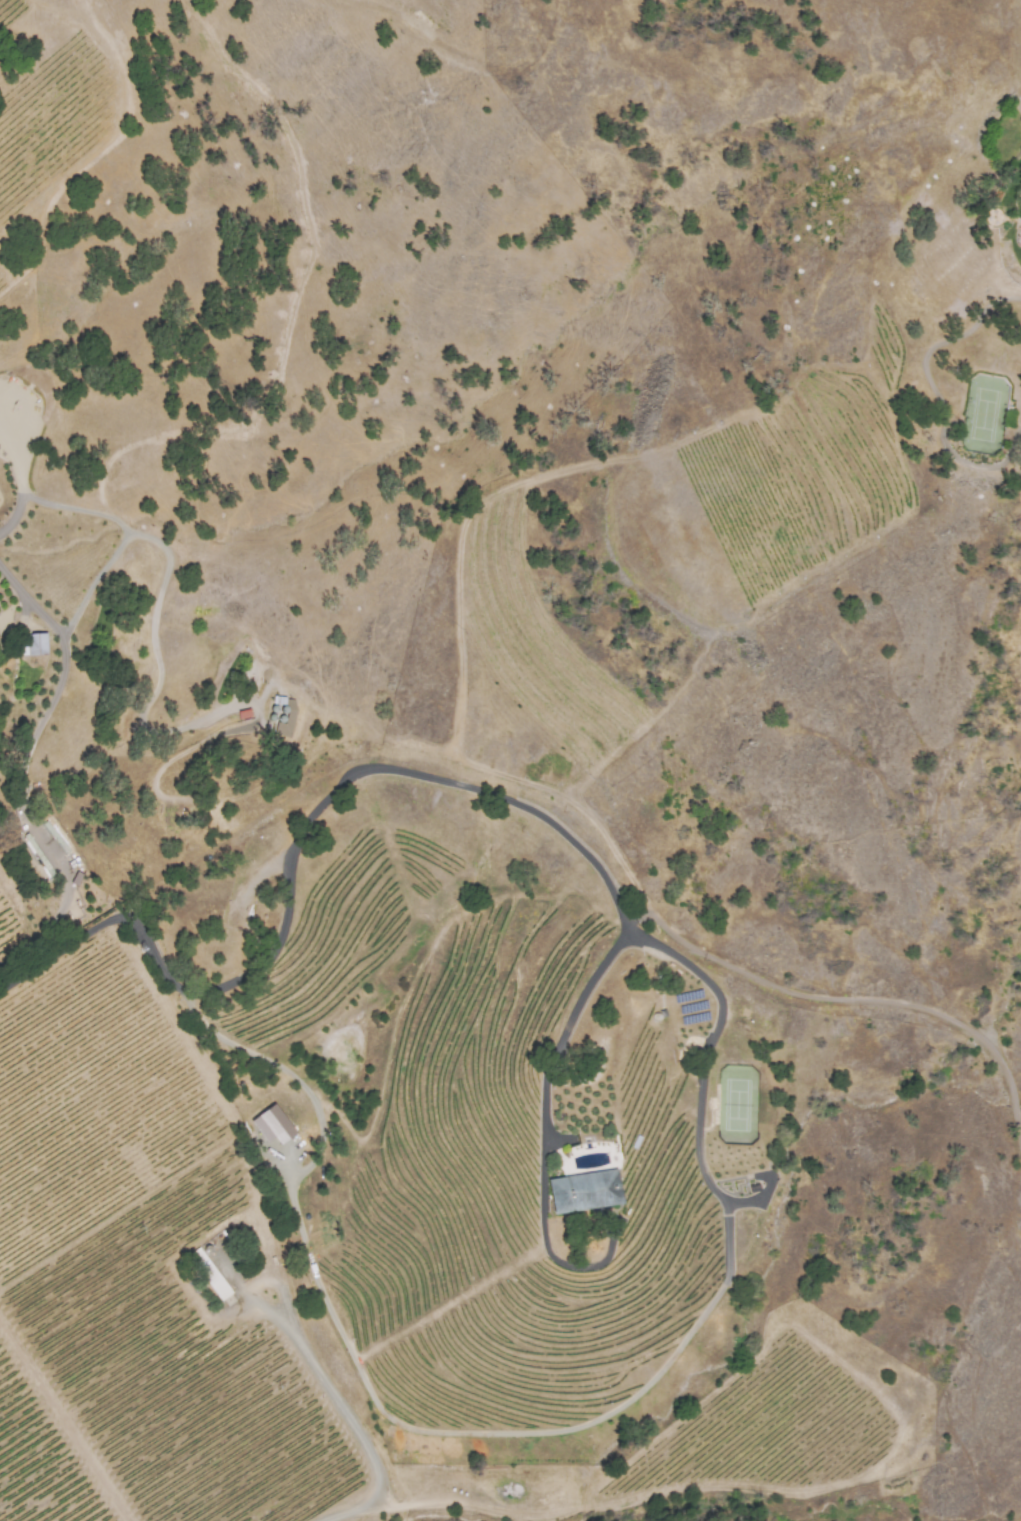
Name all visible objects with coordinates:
building: (1020, 246)
road: (18, 486)
road: (125, 537)
building: (36, 643)
road: (62, 670)
road: (159, 679)
road: (293, 851)
road: (634, 917)
road: (864, 1001)
road: (557, 1042)
road: (702, 1065)
building: (273, 1125)
building: (583, 1190)
building: (208, 1275)
road: (258, 1285)
road: (359, 1434)

